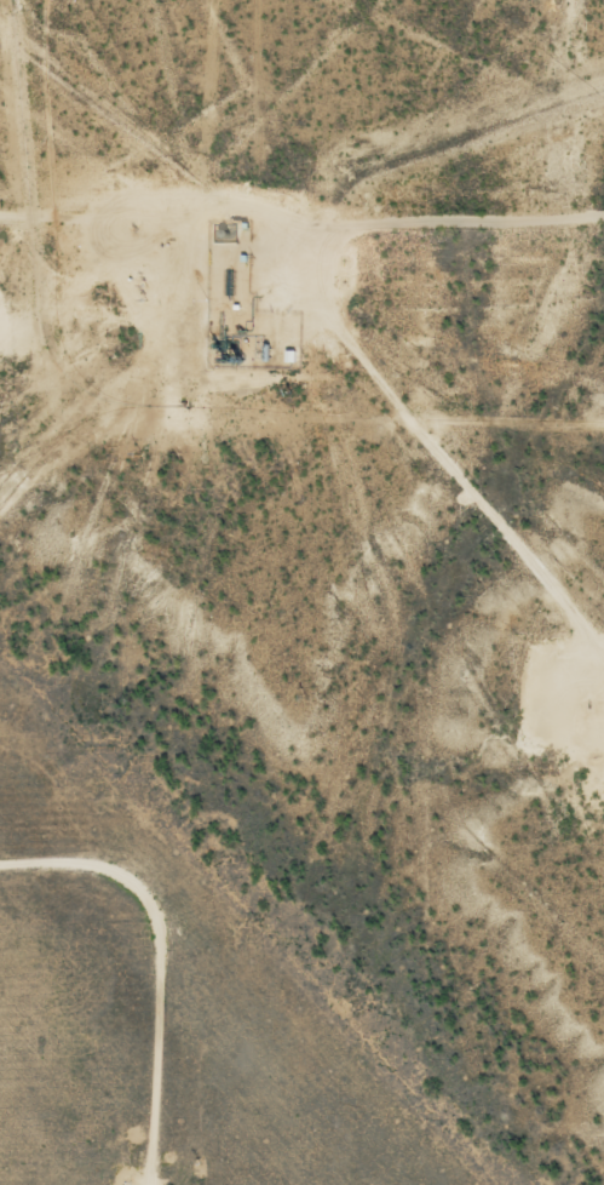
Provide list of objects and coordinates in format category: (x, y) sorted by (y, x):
road: (298, 195)

